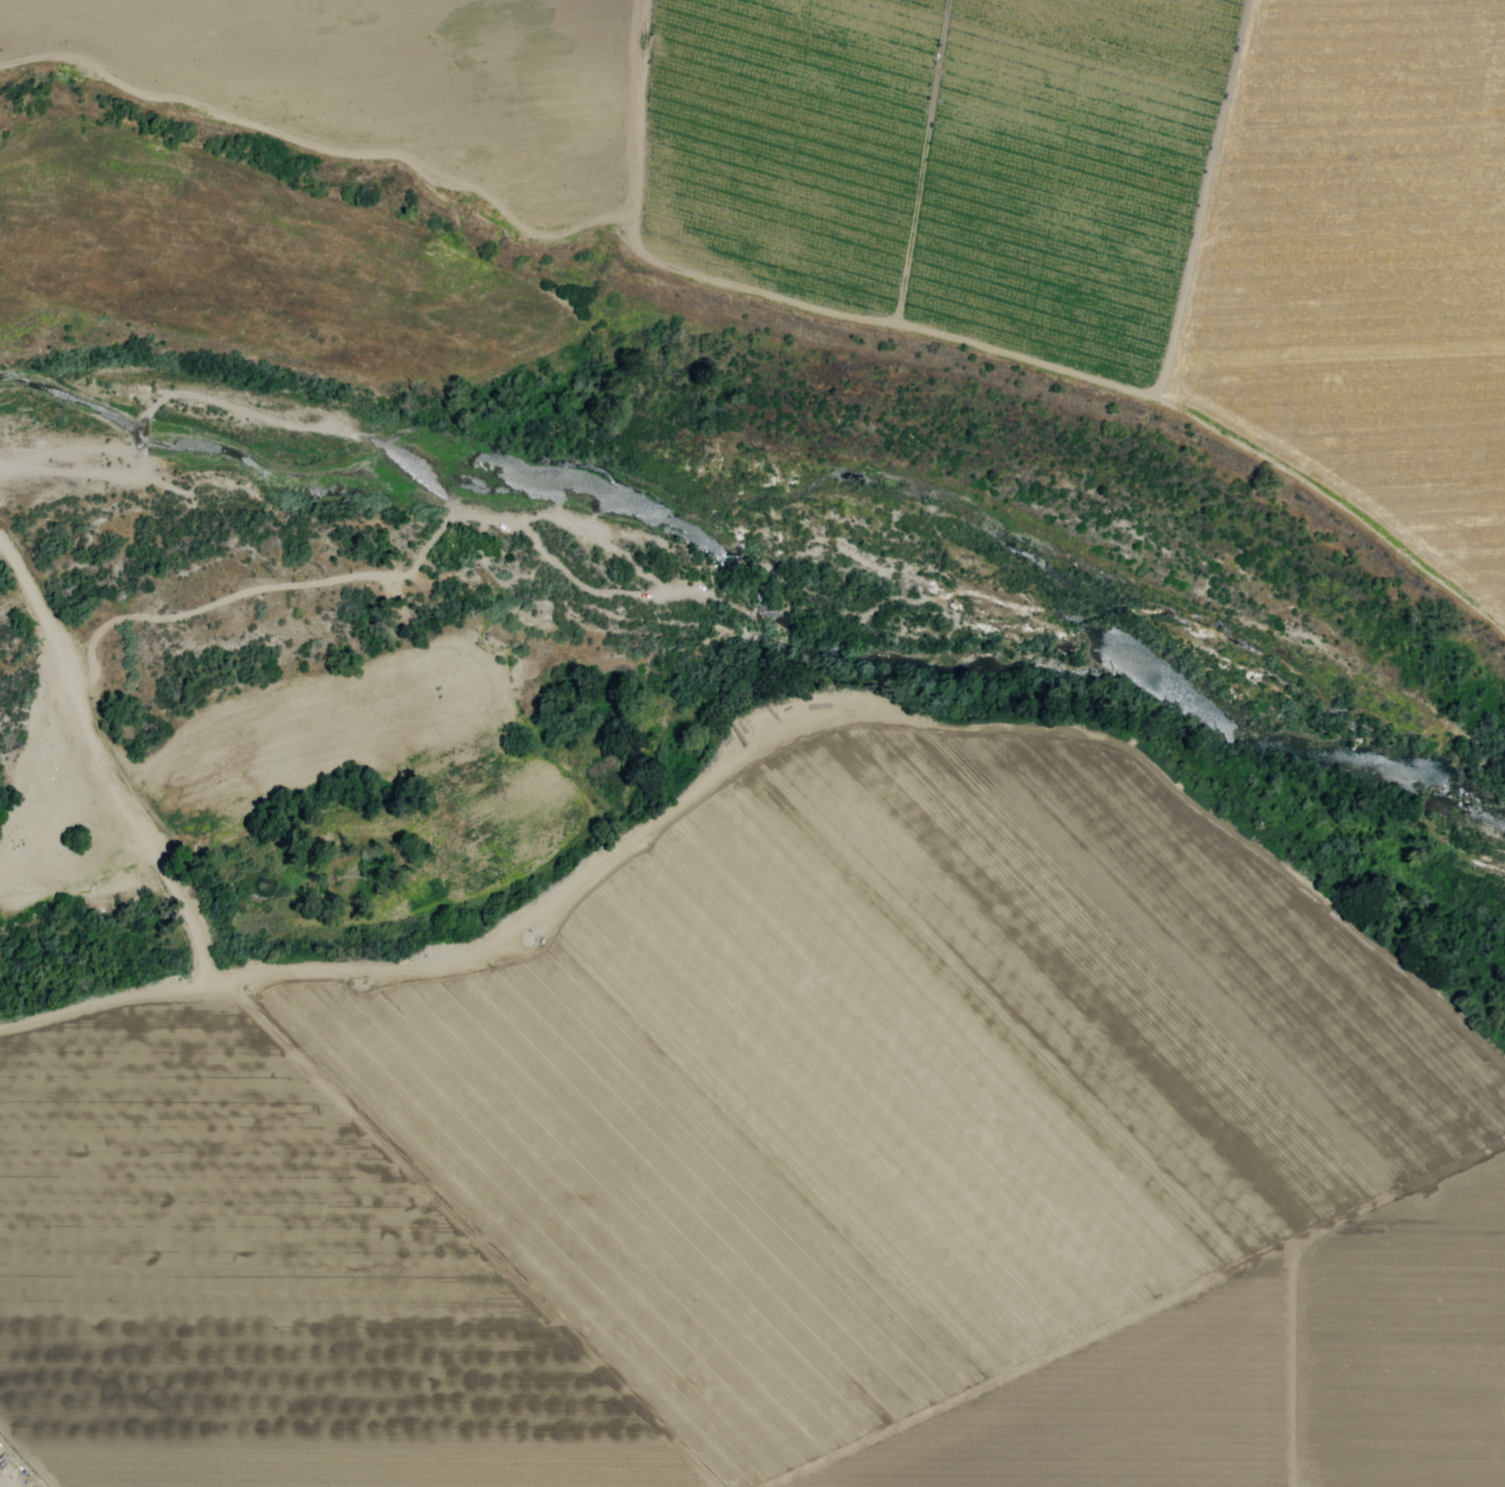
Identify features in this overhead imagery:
crop: (812, 191)
river: (756, 583)
crop: (786, 1163)

